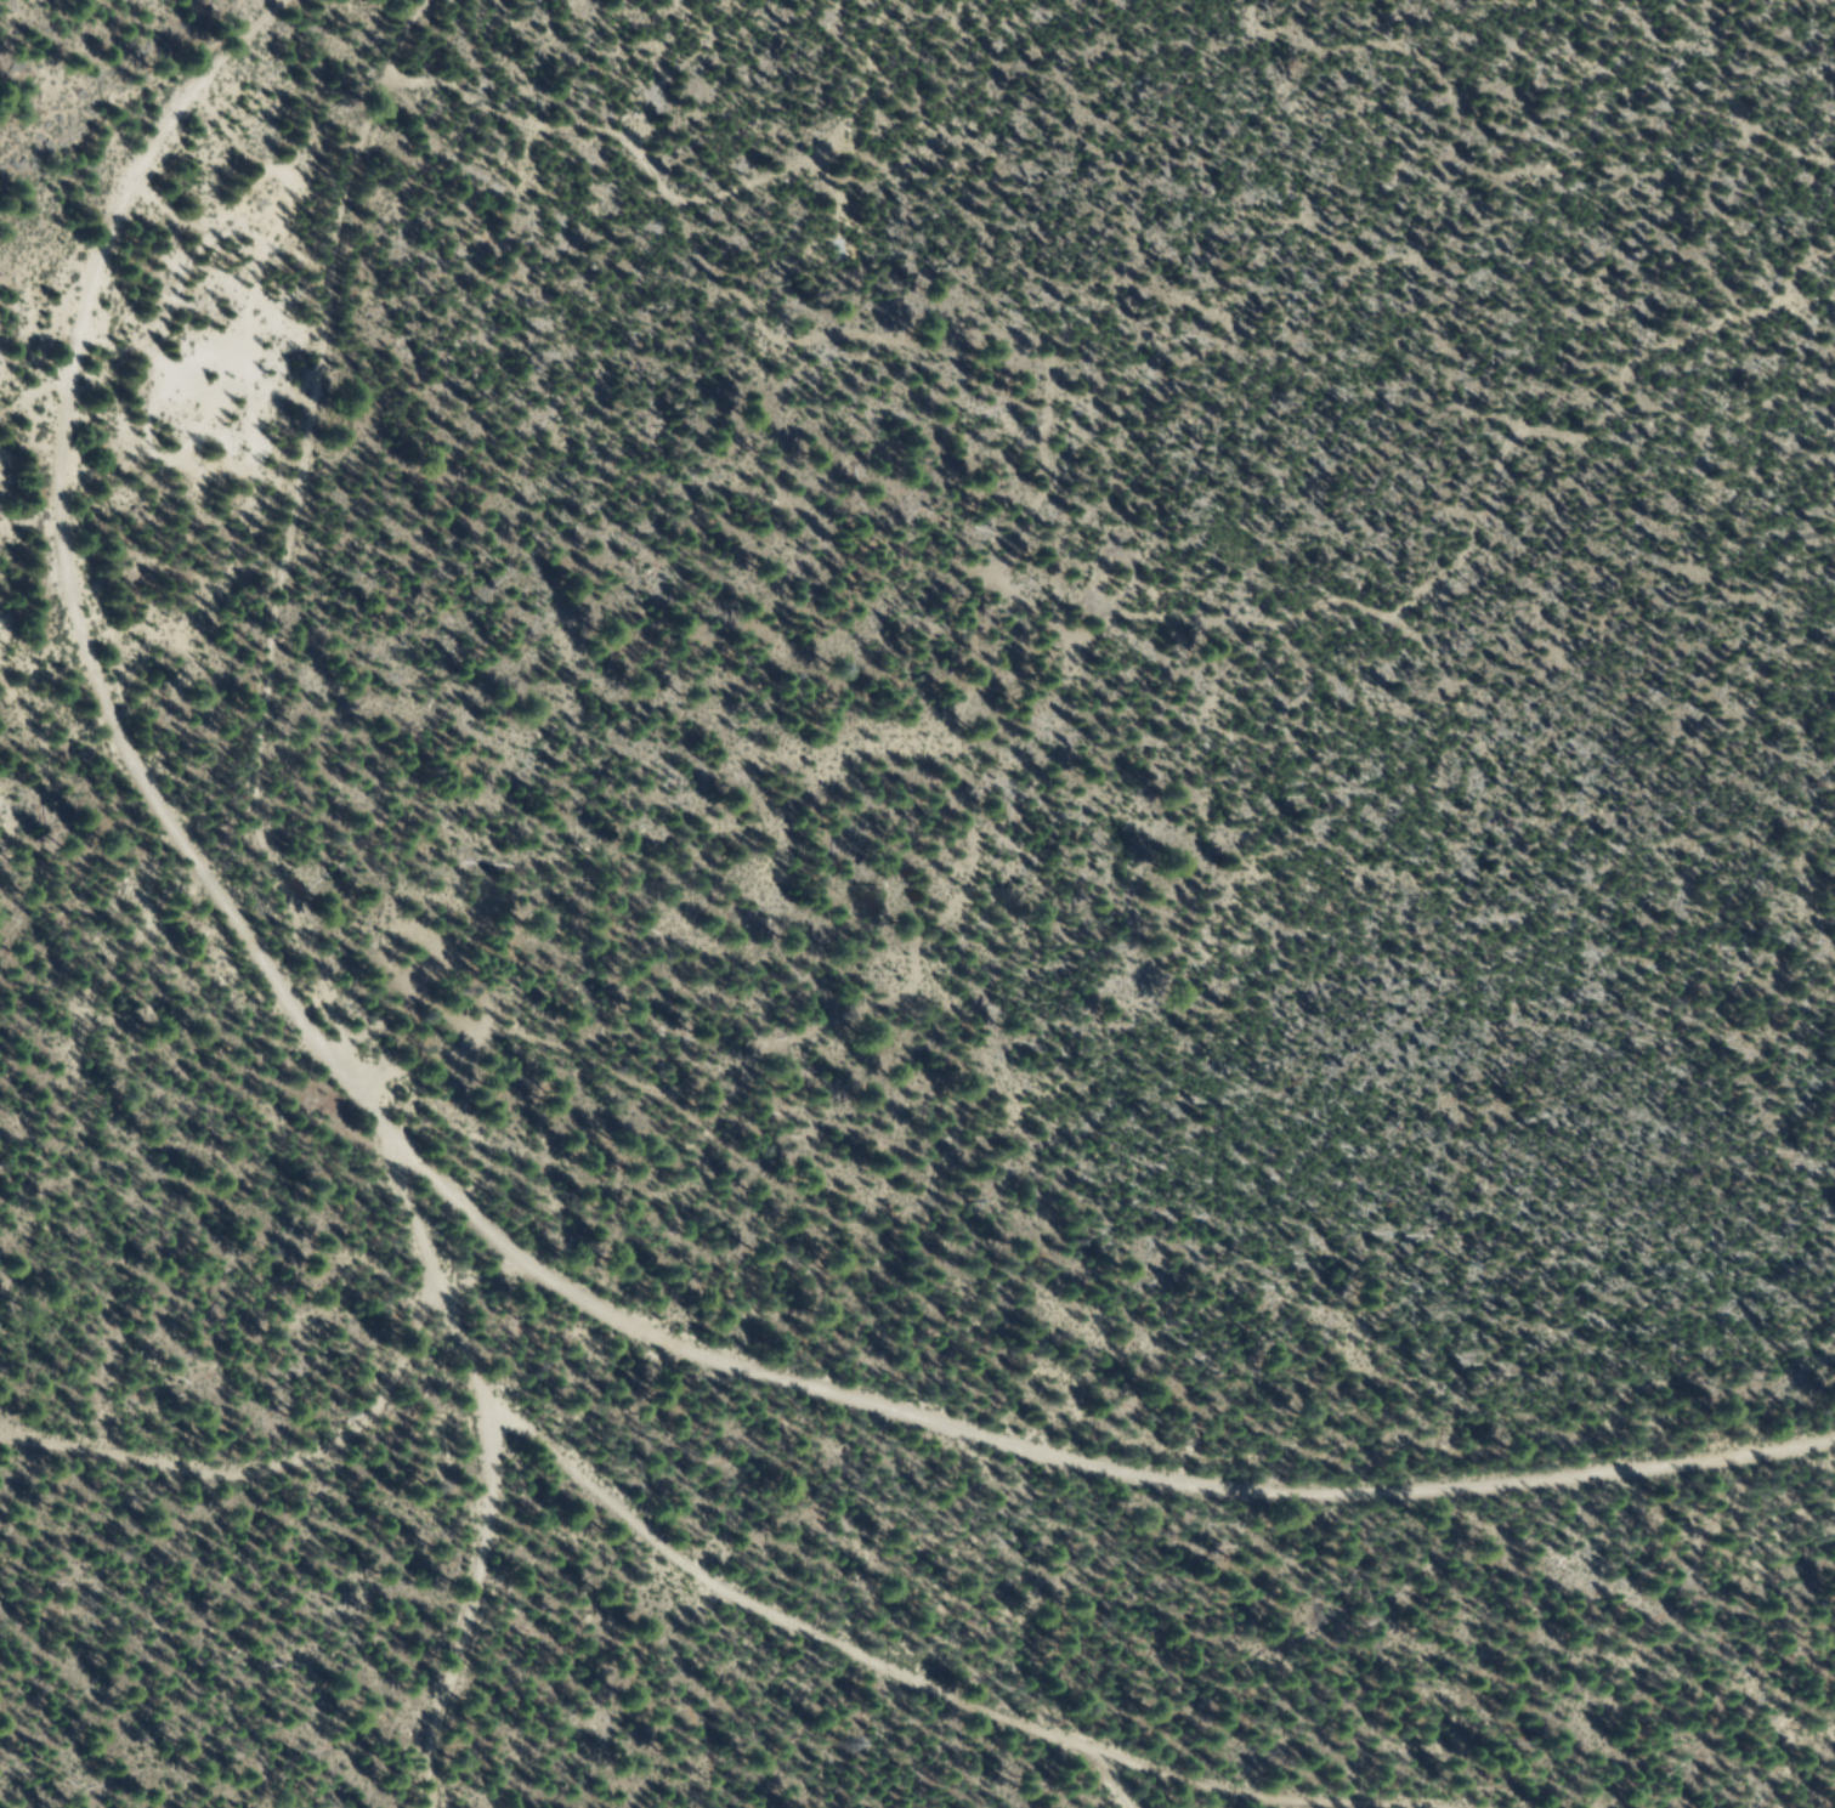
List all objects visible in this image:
road: (285, 552)
road: (478, 1214)
road: (497, 1451)
road: (264, 1466)
road: (873, 1667)

